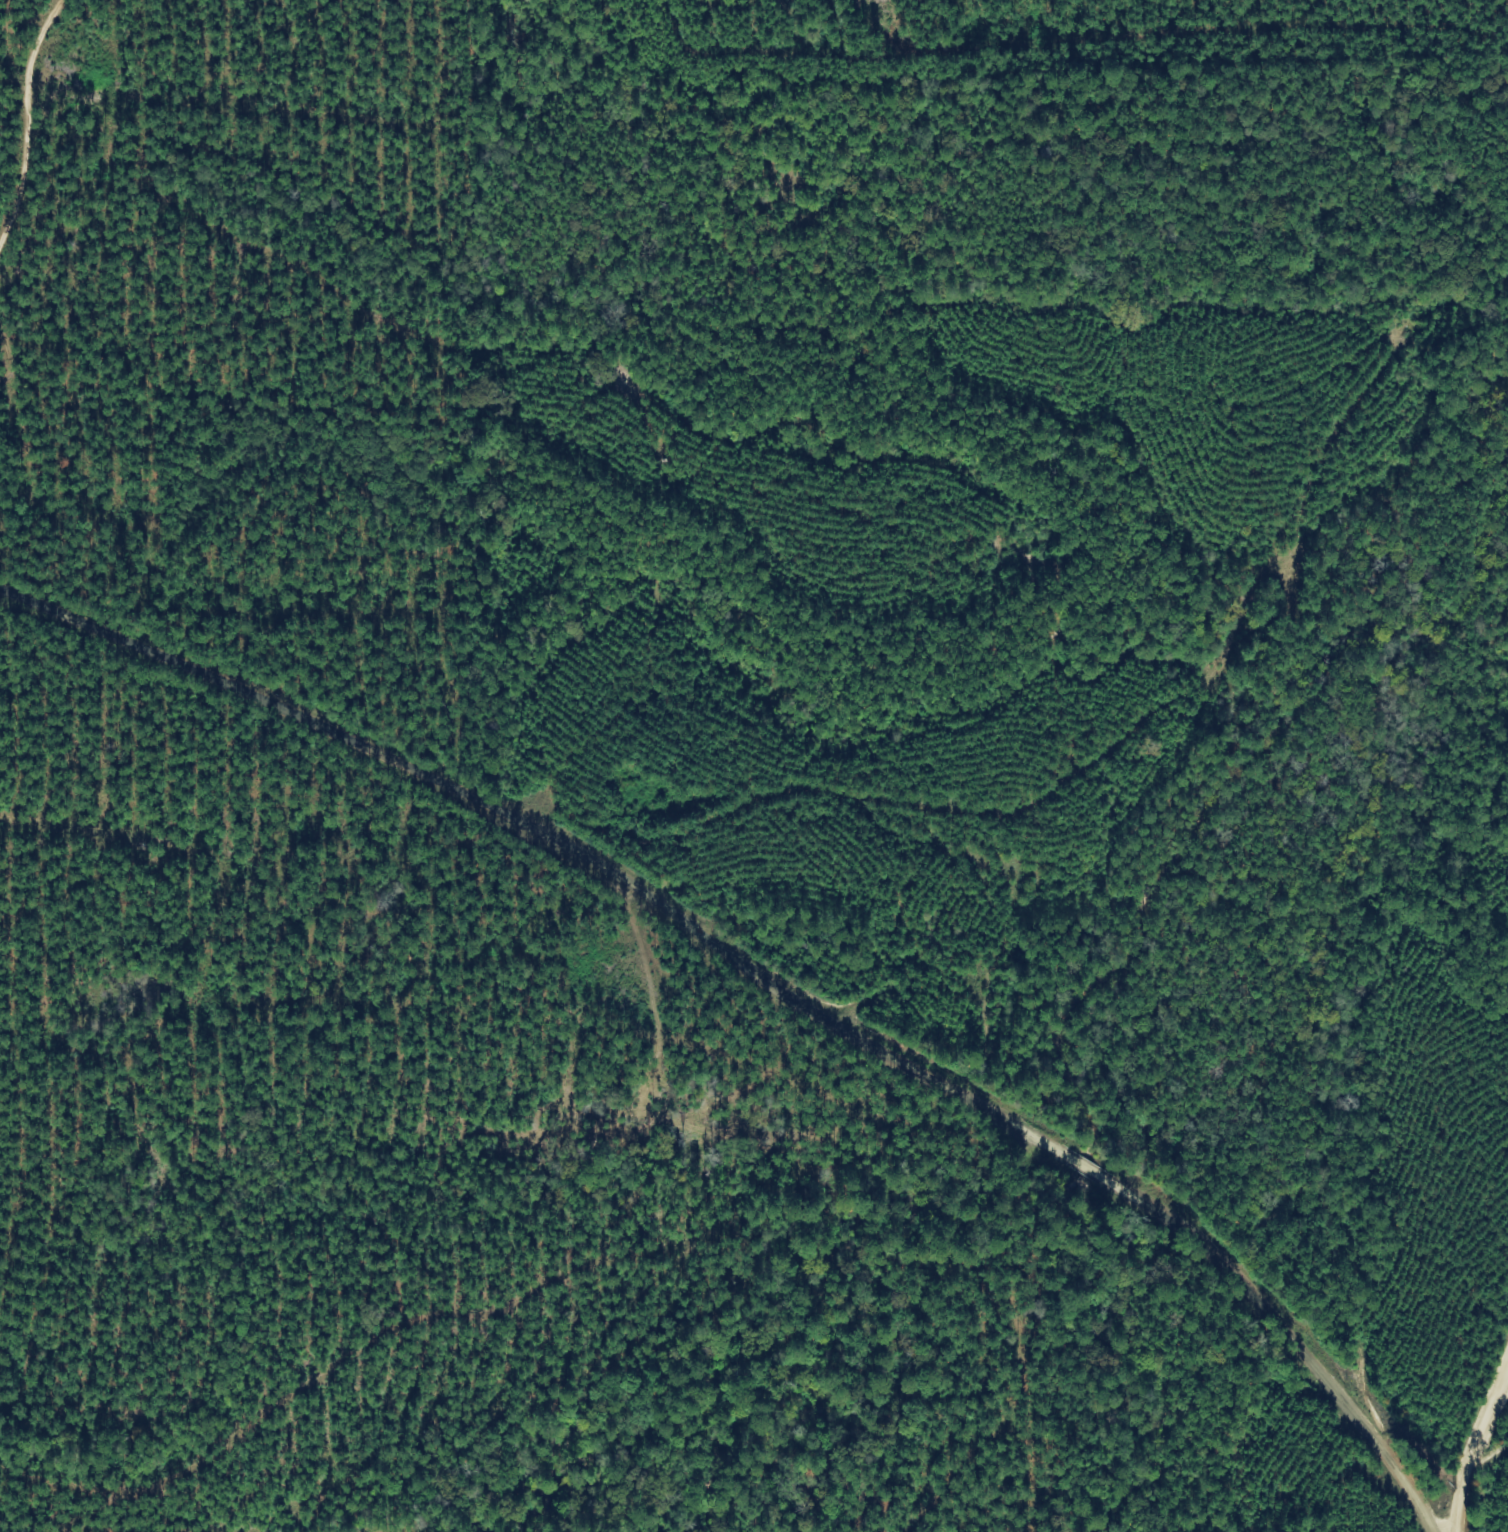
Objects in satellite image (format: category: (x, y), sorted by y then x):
road: (575, 892)
road: (1281, 1378)
road: (1478, 1463)
road: (1453, 1522)

